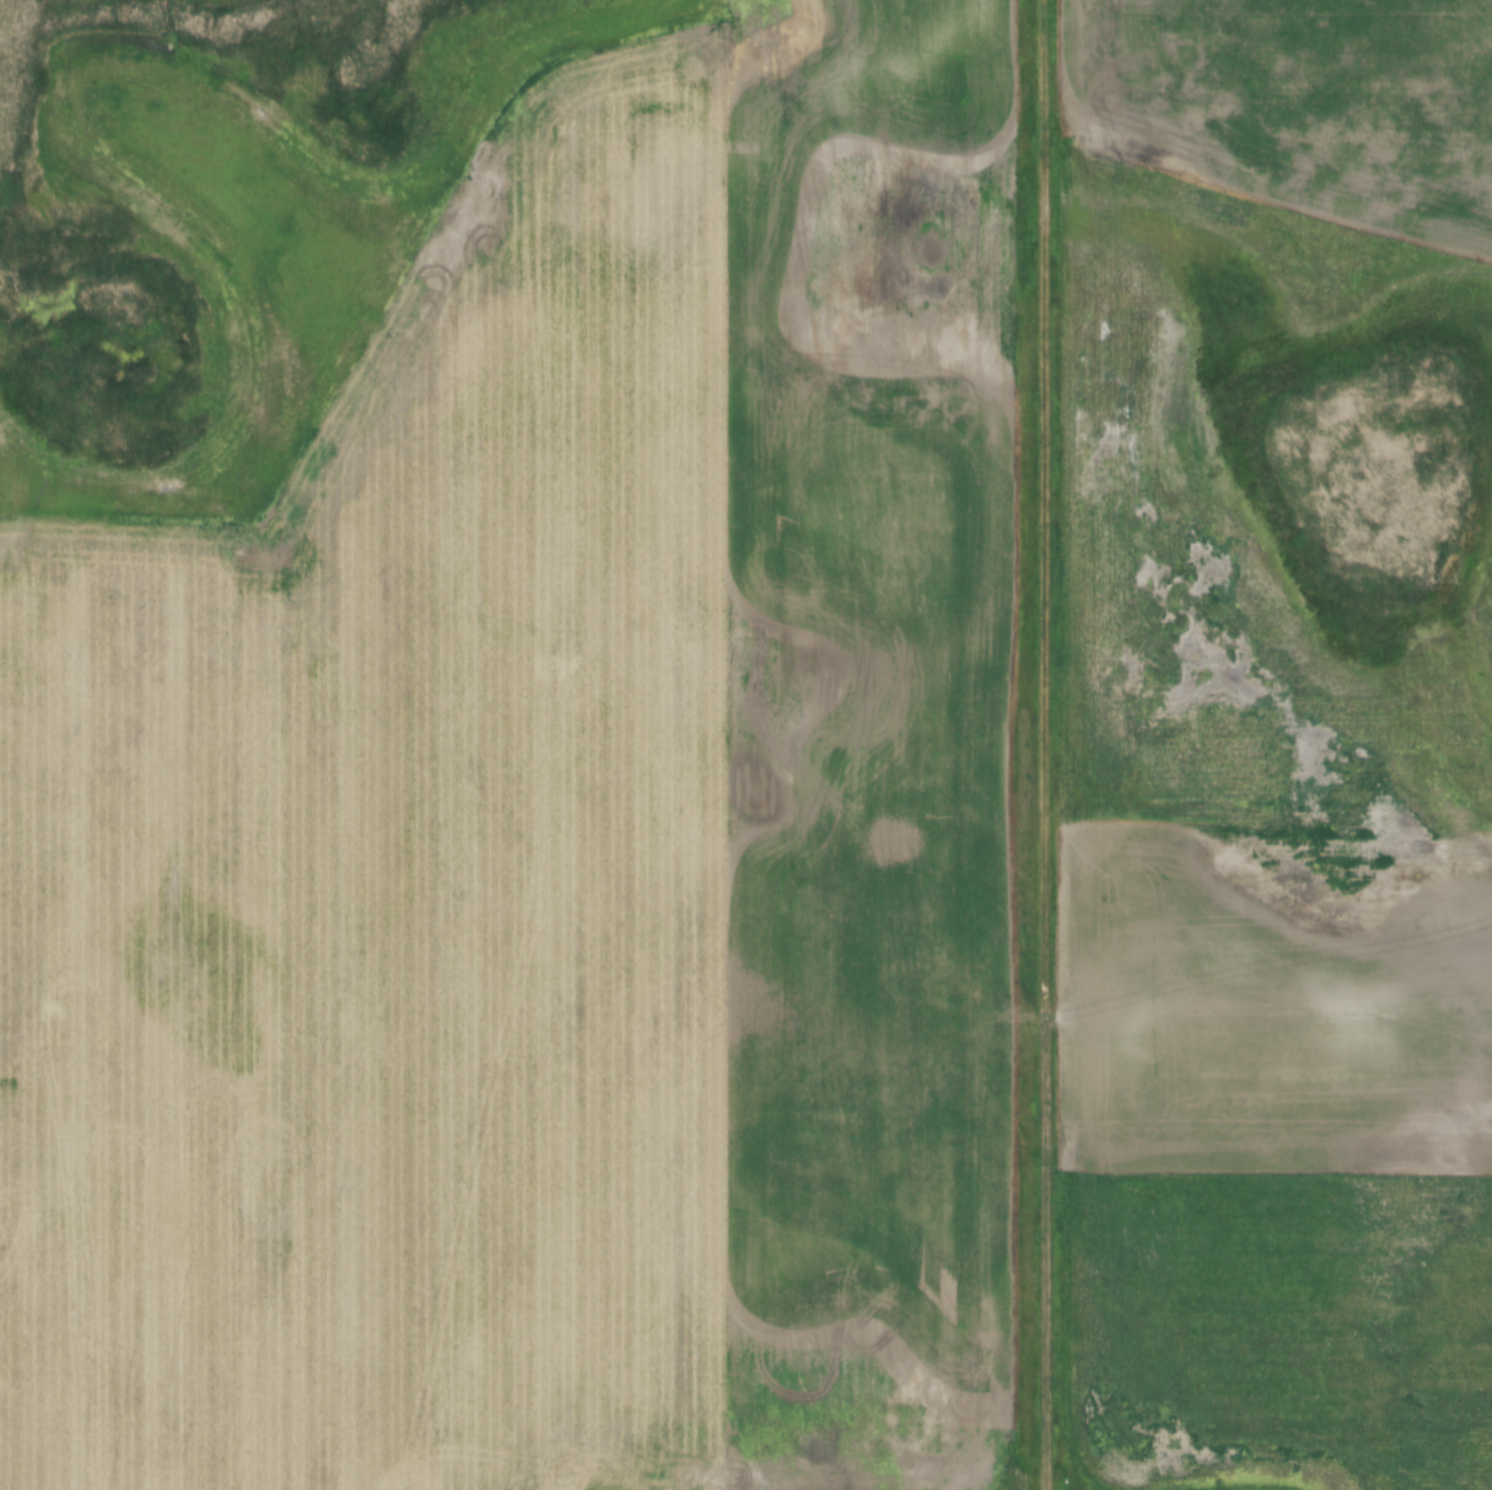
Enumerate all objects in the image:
road: (1046, 745)

